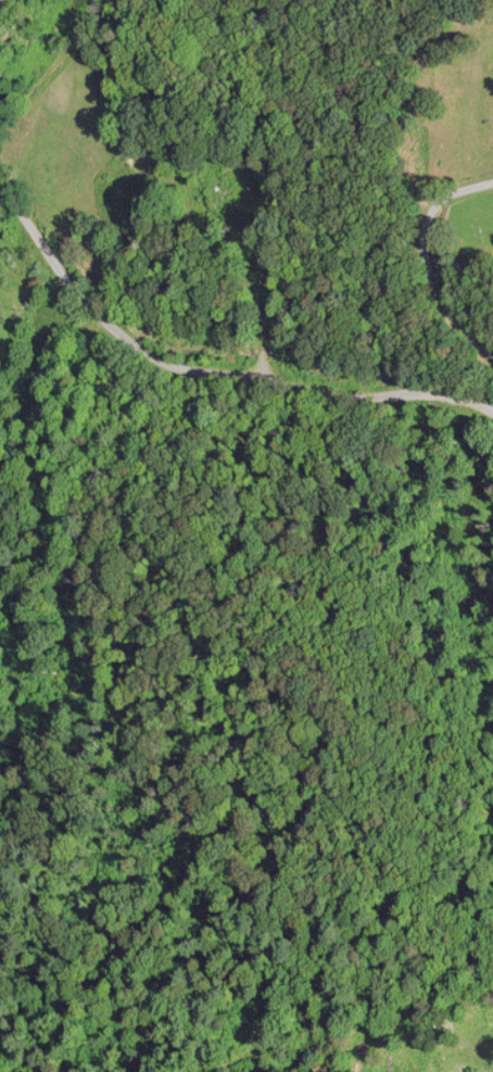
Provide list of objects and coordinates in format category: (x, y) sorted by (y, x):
building: (239, 194)
road: (213, 354)

